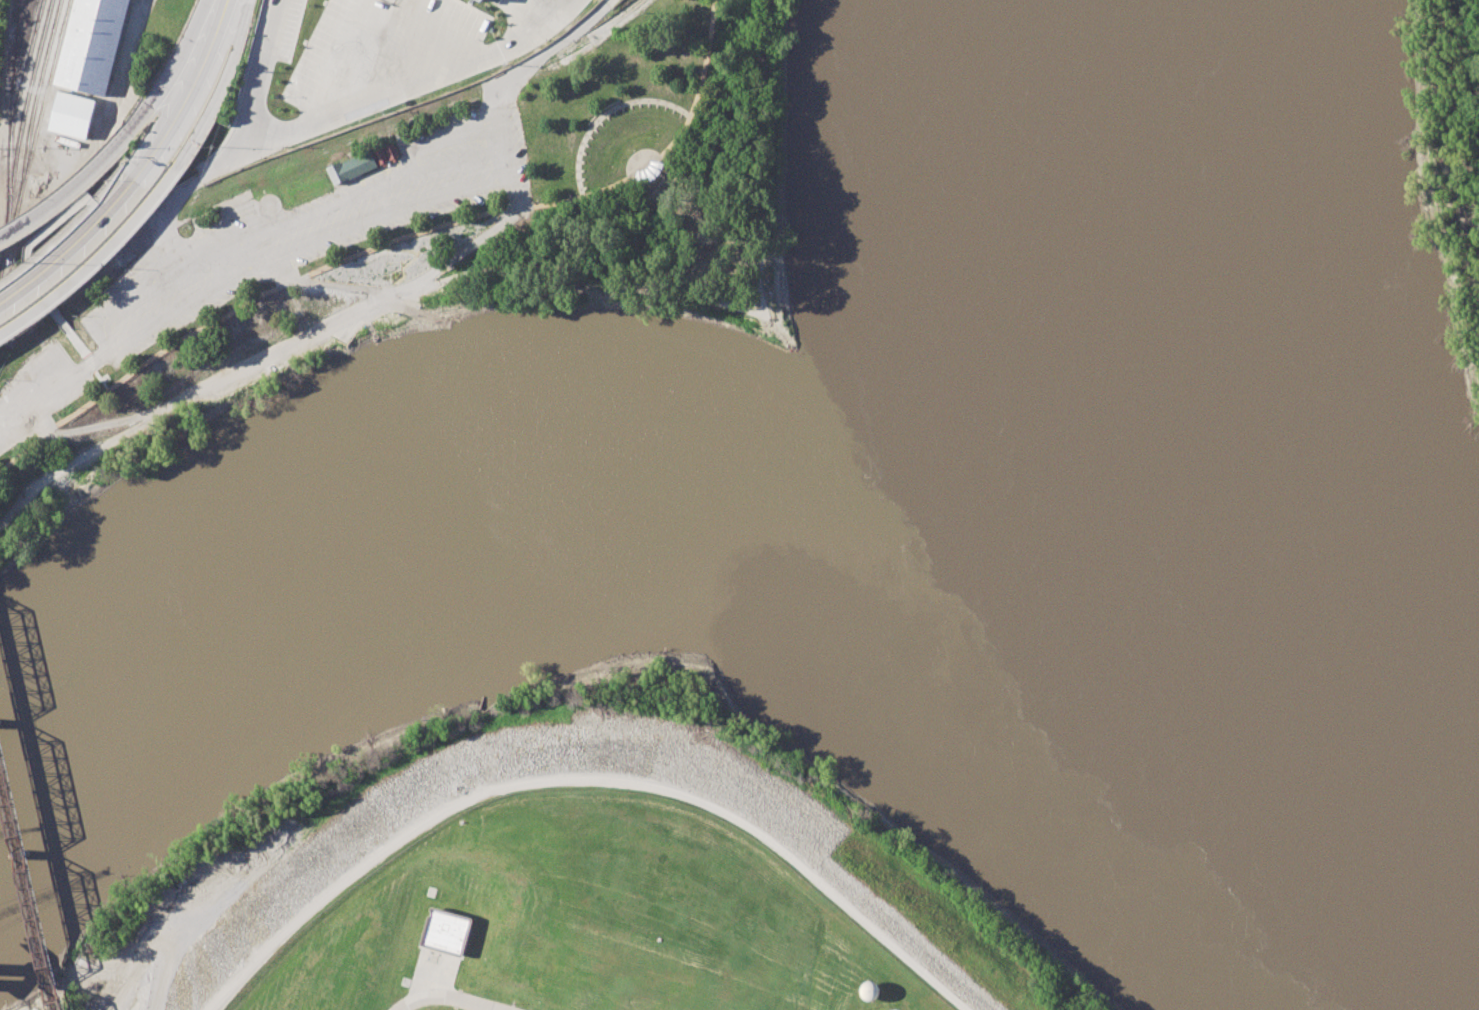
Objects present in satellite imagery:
railway: (18, 16)
road: (355, 20)
railway: (18, 44)
building: (94, 44)
railway: (12, 76)
road: (220, 89)
road: (400, 91)
road: (184, 92)
road: (154, 102)
railway: (33, 105)
railway: (13, 112)
road: (603, 113)
building: (71, 114)
railway: (18, 133)
railway: (34, 136)
road: (229, 144)
building: (386, 153)
road: (414, 160)
building: (351, 167)
road: (58, 199)
road: (655, 215)
road: (74, 219)
road: (390, 240)
road: (69, 243)
park: (442, 254)
road: (95, 262)
road: (38, 289)
road: (687, 297)
road: (77, 343)
road: (90, 363)
road: (100, 380)
river: (520, 509)
river: (1132, 545)
railway: (29, 882)
wastewater plant: (582, 915)
building: (445, 930)
road: (456, 994)

